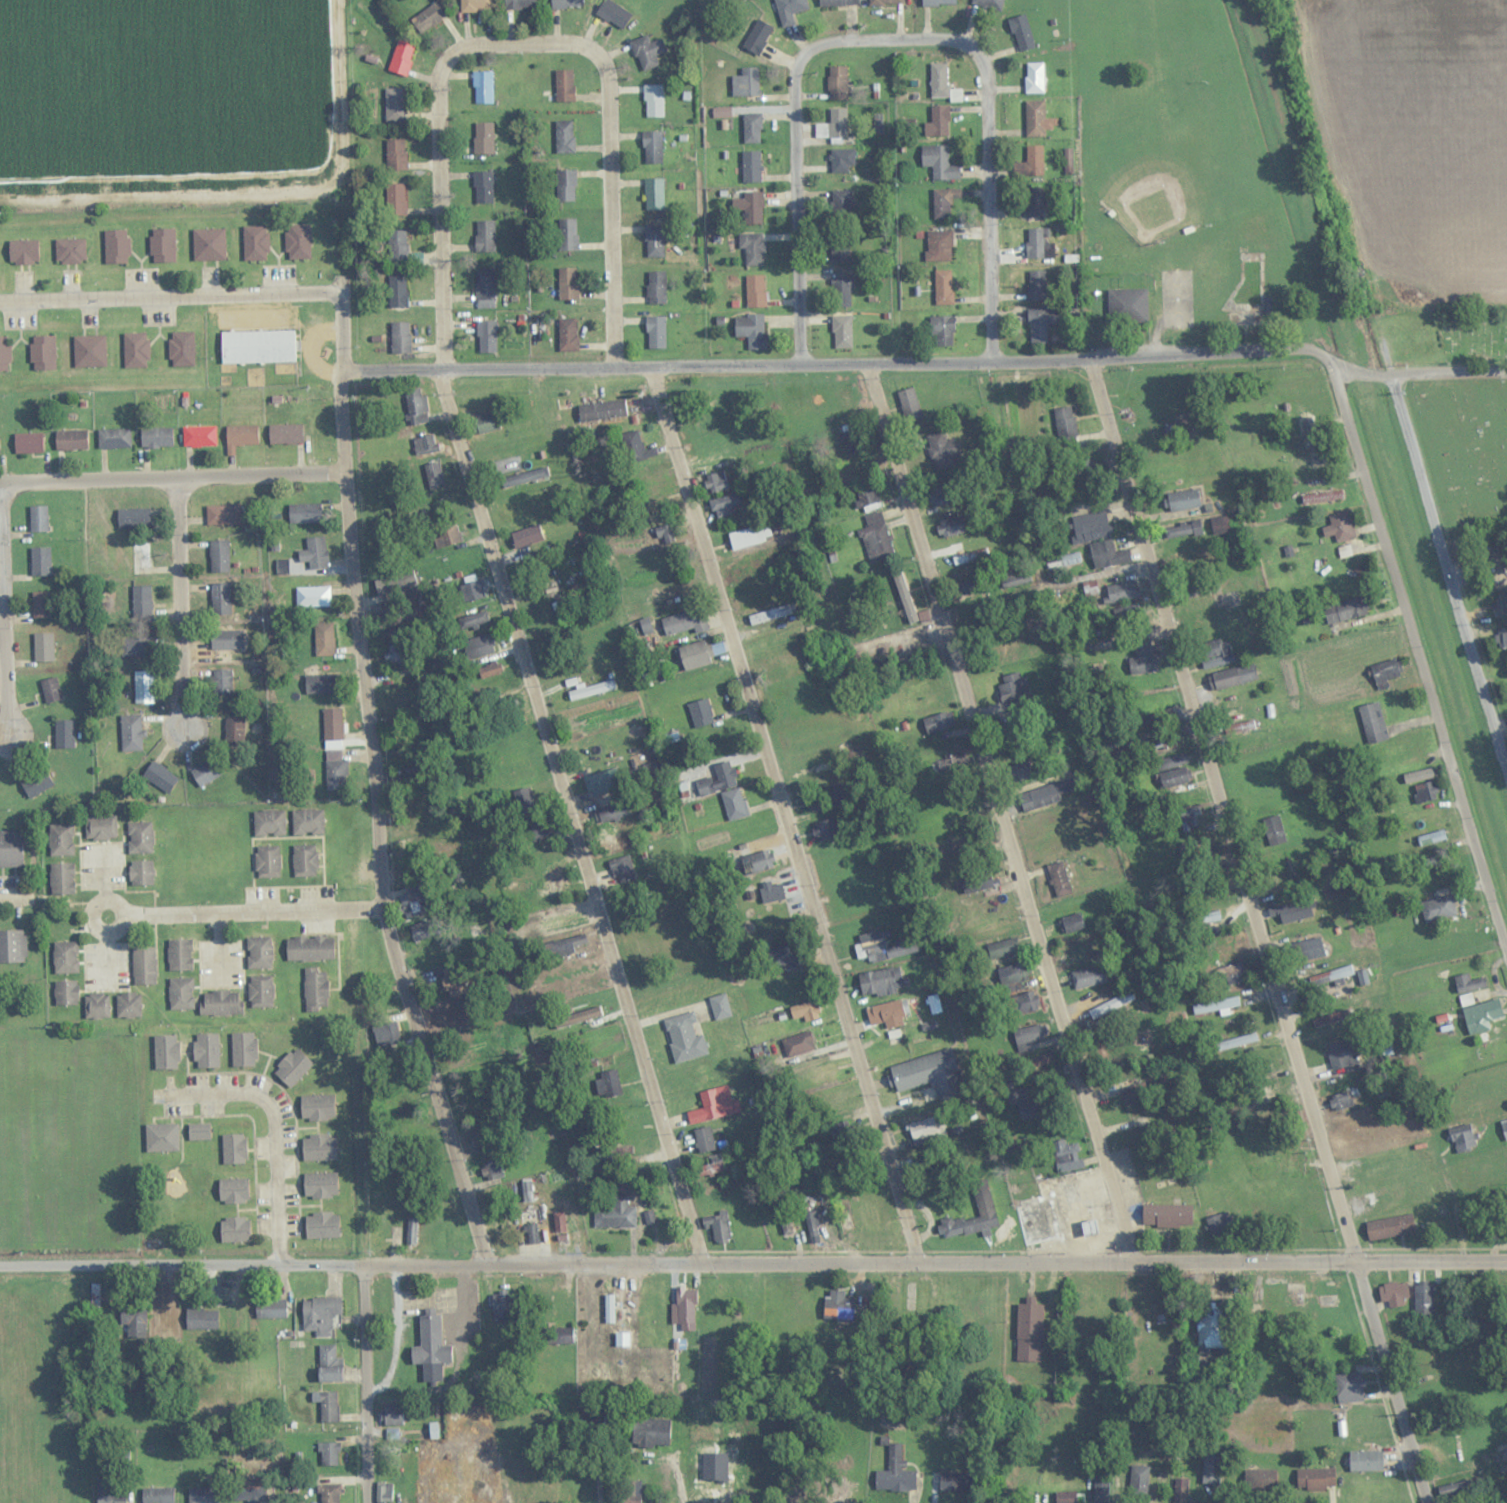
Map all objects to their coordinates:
building: (837, 2)
building: (886, 2)
building: (938, 2)
building: (520, 4)
building: (566, 4)
building: (989, 4)
building: (476, 5)
building: (789, 9)
building: (613, 14)
building: (428, 17)
building: (1022, 33)
building: (757, 37)
building: (647, 51)
building: (402, 58)
building: (1034, 78)
building: (939, 80)
building: (746, 82)
building: (837, 83)
building: (564, 85)
building: (483, 87)
building: (654, 101)
building: (394, 105)
building: (1035, 118)
building: (938, 122)
building: (834, 125)
building: (752, 128)
building: (564, 136)
building: (483, 137)
building: (653, 147)
building: (396, 154)
road: (989, 160)
building: (842, 161)
building: (1034, 161)
building: (939, 163)
road: (797, 164)
road: (440, 166)
building: (751, 167)
road: (611, 178)
building: (566, 185)
building: (483, 187)
building: (654, 194)
building: (395, 200)
building: (1035, 202)
building: (944, 203)
building: (840, 204)
building: (750, 208)
building: (568, 235)
building: (485, 236)
building: (654, 241)
building: (298, 242)
building: (255, 243)
building: (1038, 243)
building: (209, 245)
building: (162, 246)
building: (397, 246)
building: (939, 246)
building: (117, 247)
building: (752, 249)
building: (839, 249)
building: (70, 251)
building: (23, 252)
building: (568, 283)
building: (1037, 284)
building: (944, 287)
building: (656, 288)
building: (485, 289)
building: (398, 291)
building: (755, 291)
building: (842, 293)
road: (171, 297)
building: (1129, 306)
building: (1042, 323)
building: (943, 329)
building: (751, 330)
building: (842, 331)
building: (656, 332)
building: (568, 335)
building: (400, 337)
building: (486, 337)
building: (257, 346)
building: (181, 348)
building: (136, 350)
building: (89, 351)
building: (43, 353)
building: (5, 354)
road: (839, 363)
road: (1450, 371)
building: (843, 402)
building: (910, 404)
building: (417, 406)
building: (602, 410)
building: (703, 417)
building: (486, 422)
building: (1064, 422)
building: (1311, 430)
building: (286, 433)
building: (199, 435)
building: (241, 436)
building: (114, 437)
building: (156, 437)
building: (851, 437)
building: (71, 439)
building: (29, 442)
building: (425, 444)
building: (635, 446)
building: (712, 450)
building: (943, 450)
building: (858, 467)
building: (1076, 467)
building: (434, 474)
building: (525, 476)
road: (173, 478)
building: (717, 481)
building: (939, 494)
building: (1323, 497)
building: (868, 498)
building: (1182, 499)
building: (724, 504)
building: (304, 512)
building: (223, 514)
building: (38, 517)
building: (133, 517)
building: (1220, 524)
building: (950, 526)
building: (1091, 526)
building: (1340, 526)
building: (1185, 528)
building: (665, 533)
building: (447, 535)
building: (750, 535)
building: (527, 536)
building: (877, 539)
building: (314, 553)
building: (1108, 554)
building: (219, 555)
building: (959, 558)
building: (140, 559)
building: (41, 561)
road: (1450, 573)
building: (1015, 576)
building: (902, 580)
building: (395, 583)
building: (965, 586)
building: (472, 588)
building: (1121, 591)
building: (1236, 593)
building: (312, 596)
building: (220, 598)
building: (142, 600)
building: (41, 604)
building: (1501, 604)
building: (1200, 605)
road: (181, 607)
building: (1347, 609)
building: (771, 614)
road: (6, 615)
building: (474, 619)
building: (685, 622)
building: (1502, 637)
building: (324, 638)
building: (226, 639)
building: (479, 645)
building: (43, 646)
building: (138, 647)
building: (1215, 653)
building: (694, 655)
building: (1145, 655)
road: (1420, 659)
building: (490, 669)
building: (1385, 672)
building: (1232, 677)
building: (321, 683)
building: (221, 684)
building: (144, 686)
building: (51, 689)
building: (1011, 689)
building: (591, 690)
building: (393, 700)
building: (701, 712)
building: (1147, 719)
building: (939, 721)
building: (1373, 722)
building: (333, 723)
building: (1239, 727)
building: (234, 728)
building: (131, 732)
building: (64, 733)
building: (949, 762)
building: (1173, 768)
building: (207, 771)
building: (336, 771)
building: (514, 774)
building: (1418, 775)
building: (160, 776)
building: (718, 779)
building: (36, 782)
building: (601, 782)
road: (375, 786)
building: (1425, 792)
building: (1039, 797)
building: (523, 802)
building: (734, 804)
road: (1001, 813)
road: (783, 815)
building: (1190, 816)
road: (571, 817)
building: (307, 822)
building: (269, 823)
building: (101, 827)
building: (540, 829)
building: (825, 829)
building: (1274, 831)
building: (140, 837)
building: (1432, 838)
building: (1201, 846)
building: (11, 849)
building: (61, 860)
building: (305, 861)
building: (758, 861)
building: (267, 862)
building: (623, 869)
building: (141, 873)
building: (1059, 879)
building: (977, 882)
building: (553, 885)
building: (772, 891)
building: (415, 904)
building: (1438, 908)
road: (367, 910)
road: (174, 914)
building: (1294, 916)
building: (1210, 917)
building: (565, 919)
building: (1072, 923)
road: (1260, 931)
building: (420, 932)
building: (12, 946)
building: (565, 946)
building: (1079, 946)
building: (883, 947)
building: (310, 948)
building: (1003, 948)
building: (1309, 950)
building: (259, 953)
building: (180, 955)
building: (786, 956)
building: (65, 957)
building: (143, 965)
building: (1014, 974)
building: (1232, 974)
building: (1332, 975)
building: (1089, 977)
building: (880, 982)
building: (1468, 983)
building: (316, 988)
building: (261, 991)
building: (66, 992)
building: (181, 993)
building: (1027, 1001)
building: (221, 1002)
building: (934, 1003)
building: (97, 1005)
building: (128, 1005)
building: (1111, 1005)
building: (1216, 1005)
building: (805, 1011)
building: (888, 1014)
building: (1482, 1015)
building: (1330, 1018)
building: (387, 1033)
building: (1031, 1034)
building: (685, 1038)
building: (1237, 1041)
building: (798, 1044)
building: (244, 1049)
building: (206, 1050)
building: (166, 1052)
building: (1342, 1054)
building: (1038, 1062)
building: (292, 1067)
building: (822, 1073)
building: (929, 1074)
road: (356, 1088)
building: (1131, 1094)
building: (1501, 1094)
building: (1341, 1101)
building: (714, 1104)
building: (1026, 1104)
building: (317, 1107)
road: (274, 1127)
building: (924, 1128)
building: (1504, 1128)
building: (840, 1131)
building: (199, 1132)
building: (162, 1137)
building: (1463, 1138)
building: (704, 1139)
building: (319, 1147)
building: (234, 1149)
road: (421, 1155)
building: (1066, 1156)
building: (1288, 1157)
building: (713, 1160)
building: (494, 1167)
building: (320, 1185)
building: (233, 1191)
building: (983, 1198)
building: (615, 1215)
building: (1168, 1216)
building: (559, 1221)
building: (500, 1225)
building: (1219, 1225)
building: (322, 1226)
building: (718, 1227)
building: (812, 1227)
building: (1390, 1227)
building: (412, 1229)
building: (1496, 1229)
building: (235, 1230)
building: (531, 1234)
road: (753, 1264)
building: (1394, 1293)
building: (650, 1300)
building: (1424, 1302)
building: (502, 1304)
building: (838, 1306)
building: (270, 1308)
building: (609, 1308)
building: (686, 1308)
building: (320, 1315)
building: (202, 1319)
building: (134, 1320)
building: (1210, 1328)
building: (1029, 1332)
building: (561, 1336)
building: (431, 1349)
building: (330, 1364)
building: (1455, 1380)
road: (365, 1384)
building: (1349, 1387)
building: (327, 1405)
building: (391, 1415)
building: (652, 1432)
building: (328, 1453)
building: (1366, 1460)
building: (1212, 1468)
building: (895, 1473)
building: (1316, 1478)
building: (1260, 1479)
building: (954, 1481)
building: (1138, 1481)
building: (1458, 1487)
building: (834, 1489)
building: (1101, 1489)
building: (110, 1490)
building: (1180, 1490)
building: (250, 1492)
building: (384, 1492)
building: (631, 1492)
building: (329, 1493)
building: (158, 1495)
building: (203, 1495)
building: (1066, 1497)

